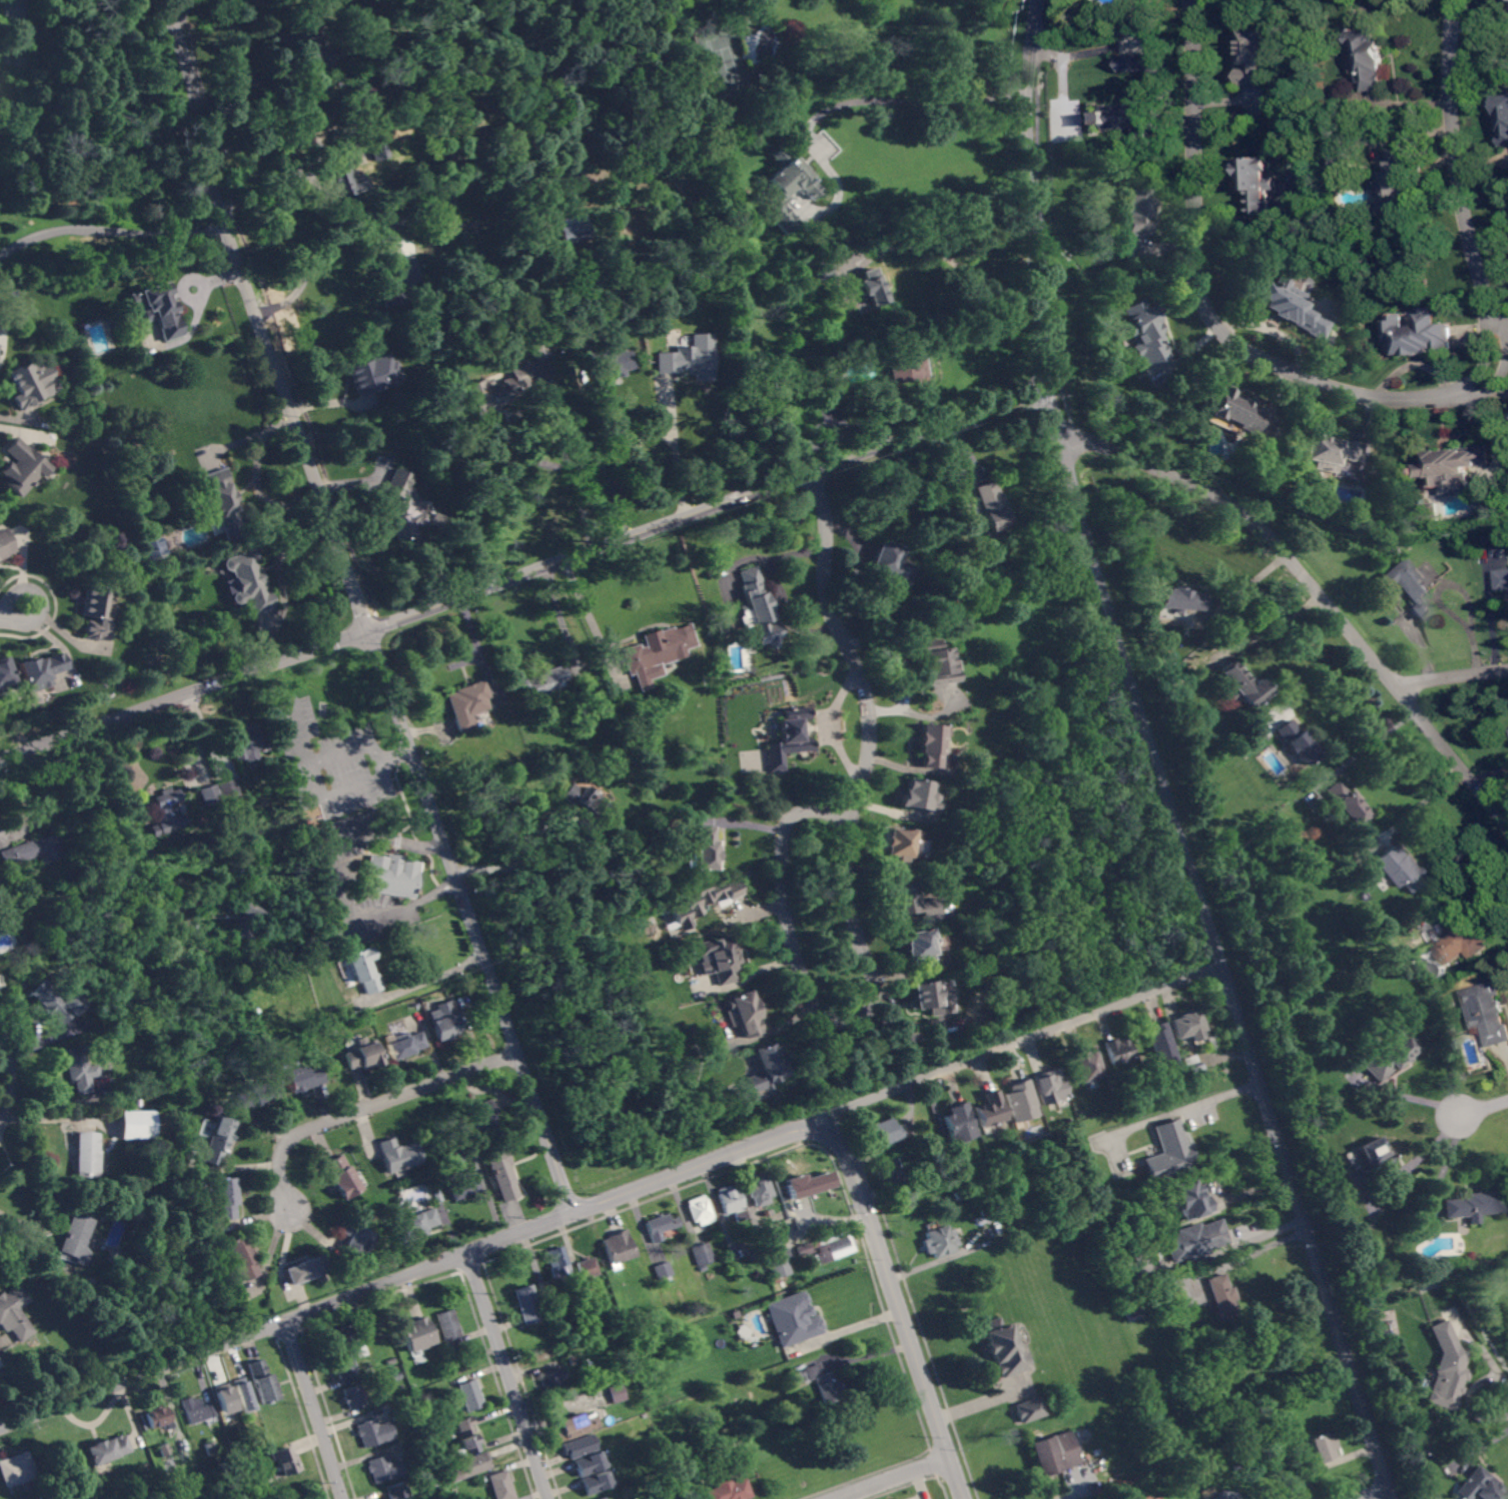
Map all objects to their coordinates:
building: (299, 39)
building: (1256, 57)
building: (1371, 57)
building: (1135, 61)
park: (724, 62)
road: (1060, 66)
road: (904, 102)
building: (314, 111)
building: (1135, 114)
building: (1504, 115)
building: (370, 122)
building: (377, 149)
road: (330, 151)
building: (1341, 162)
building: (343, 180)
building: (1395, 181)
building: (1258, 183)
building: (785, 188)
building: (390, 205)
building: (1135, 211)
building: (568, 224)
road: (111, 232)
building: (558, 242)
road: (944, 255)
road: (311, 265)
building: (821, 270)
building: (393, 271)
building: (869, 289)
building: (1291, 306)
building: (159, 309)
road: (1501, 327)
building: (1144, 333)
building: (1419, 334)
building: (538, 350)
building: (605, 357)
building: (688, 359)
building: (904, 366)
building: (372, 373)
building: (31, 384)
building: (497, 390)
building: (828, 394)
road: (1374, 395)
building: (1235, 410)
road: (555, 415)
road: (855, 424)
building: (1327, 451)
road: (670, 454)
building: (1455, 464)
building: (21, 467)
road: (609, 476)
building: (223, 503)
building: (994, 505)
road: (707, 507)
building: (402, 508)
building: (435, 521)
building: (4, 544)
building: (153, 549)
building: (883, 567)
building: (1503, 579)
road: (282, 580)
building: (248, 582)
road: (1311, 585)
building: (1409, 585)
road: (1246, 586)
road: (775, 591)
building: (1182, 599)
road: (584, 605)
road: (361, 608)
road: (14, 609)
building: (759, 609)
building: (96, 612)
road: (1276, 626)
building: (656, 652)
building: (936, 662)
building: (40, 671)
building: (5, 676)
road: (1451, 676)
road: (1319, 682)
building: (542, 683)
building: (1243, 685)
road: (184, 695)
building: (468, 704)
building: (740, 731)
building: (611, 733)
building: (788, 738)
building: (1297, 742)
building: (245, 743)
road: (1370, 743)
building: (929, 744)
road: (397, 755)
road: (1156, 759)
road: (315, 782)
building: (228, 789)
building: (916, 794)
building: (211, 798)
road: (1424, 802)
building: (1347, 803)
building: (592, 806)
building: (167, 812)
road: (576, 846)
building: (896, 847)
building: (705, 848)
building: (34, 850)
building: (278, 863)
building: (1399, 867)
road: (126, 869)
road: (1463, 872)
building: (392, 876)
building: (703, 899)
road: (851, 899)
building: (909, 900)
building: (247, 924)
building: (1408, 929)
building: (1461, 937)
building: (920, 947)
building: (720, 959)
building: (363, 970)
road: (425, 980)
building: (1, 983)
building: (932, 998)
building: (51, 1002)
building: (1487, 1012)
building: (743, 1014)
building: (130, 1017)
building: (446, 1022)
building: (1190, 1026)
road: (1024, 1041)
building: (404, 1044)
building: (1164, 1044)
building: (1120, 1050)
building: (1391, 1054)
building: (363, 1055)
building: (1089, 1065)
building: (1194, 1065)
building: (768, 1068)
building: (79, 1069)
building: (298, 1077)
building: (1048, 1086)
building: (255, 1094)
road: (1205, 1099)
building: (1019, 1100)
road: (369, 1106)
road: (1484, 1108)
building: (989, 1110)
building: (161, 1118)
building: (483, 1118)
building: (136, 1123)
building: (959, 1123)
building: (882, 1133)
building: (218, 1140)
building: (1169, 1153)
building: (87, 1155)
building: (399, 1155)
building: (1370, 1162)
road: (700, 1165)
building: (503, 1173)
building: (889, 1173)
building: (341, 1176)
building: (461, 1177)
building: (1050, 1182)
building: (806, 1183)
building: (433, 1184)
building: (760, 1189)
building: (959, 1195)
building: (225, 1199)
building: (1190, 1199)
building: (731, 1203)
building: (1035, 1204)
building: (1473, 1205)
building: (700, 1210)
building: (983, 1212)
building: (1042, 1217)
road: (16, 1218)
building: (978, 1221)
building: (417, 1223)
building: (661, 1226)
building: (1136, 1235)
building: (354, 1237)
building: (76, 1238)
building: (1194, 1240)
building: (940, 1241)
building: (618, 1247)
building: (832, 1248)
building: (1141, 1248)
building: (752, 1249)
building: (804, 1249)
road: (1261, 1249)
building: (774, 1253)
building: (702, 1255)
building: (242, 1258)
road: (932, 1261)
building: (558, 1262)
building: (306, 1270)
building: (588, 1271)
building: (664, 1273)
building: (548, 1296)
building: (1221, 1297)
building: (527, 1303)
road: (894, 1307)
building: (1131, 1308)
building: (14, 1312)
building: (792, 1319)
road: (287, 1320)
building: (1198, 1322)
building: (448, 1325)
building: (364, 1327)
road: (845, 1330)
building: (417, 1335)
building: (341, 1337)
building: (1004, 1348)
building: (450, 1350)
building: (390, 1361)
building: (343, 1366)
building: (1448, 1367)
building: (64, 1375)
road: (509, 1375)
building: (395, 1376)
building: (553, 1378)
building: (629, 1379)
building: (261, 1381)
building: (821, 1382)
building: (617, 1393)
building: (469, 1395)
building: (243, 1396)
building: (353, 1397)
building: (224, 1399)
road: (980, 1400)
road: (314, 1410)
building: (1029, 1410)
building: (197, 1411)
building: (157, 1417)
building: (463, 1426)
building: (575, 1426)
building: (373, 1432)
building: (470, 1445)
building: (577, 1447)
building: (1322, 1448)
building: (161, 1449)
building: (209, 1449)
building: (106, 1451)
building: (1054, 1453)
building: (284, 1461)
building: (589, 1464)
building: (242, 1465)
building: (470, 1466)
building: (16, 1469)
building: (385, 1469)
road: (895, 1478)
building: (596, 1483)
building: (501, 1485)
building: (1481, 1486)
building: (1294, 1487)
building: (729, 1489)
building: (397, 1491)
building: (1223, 1494)
road: (1379, 1495)
building: (46, 1496)
building: (602, 1498)

